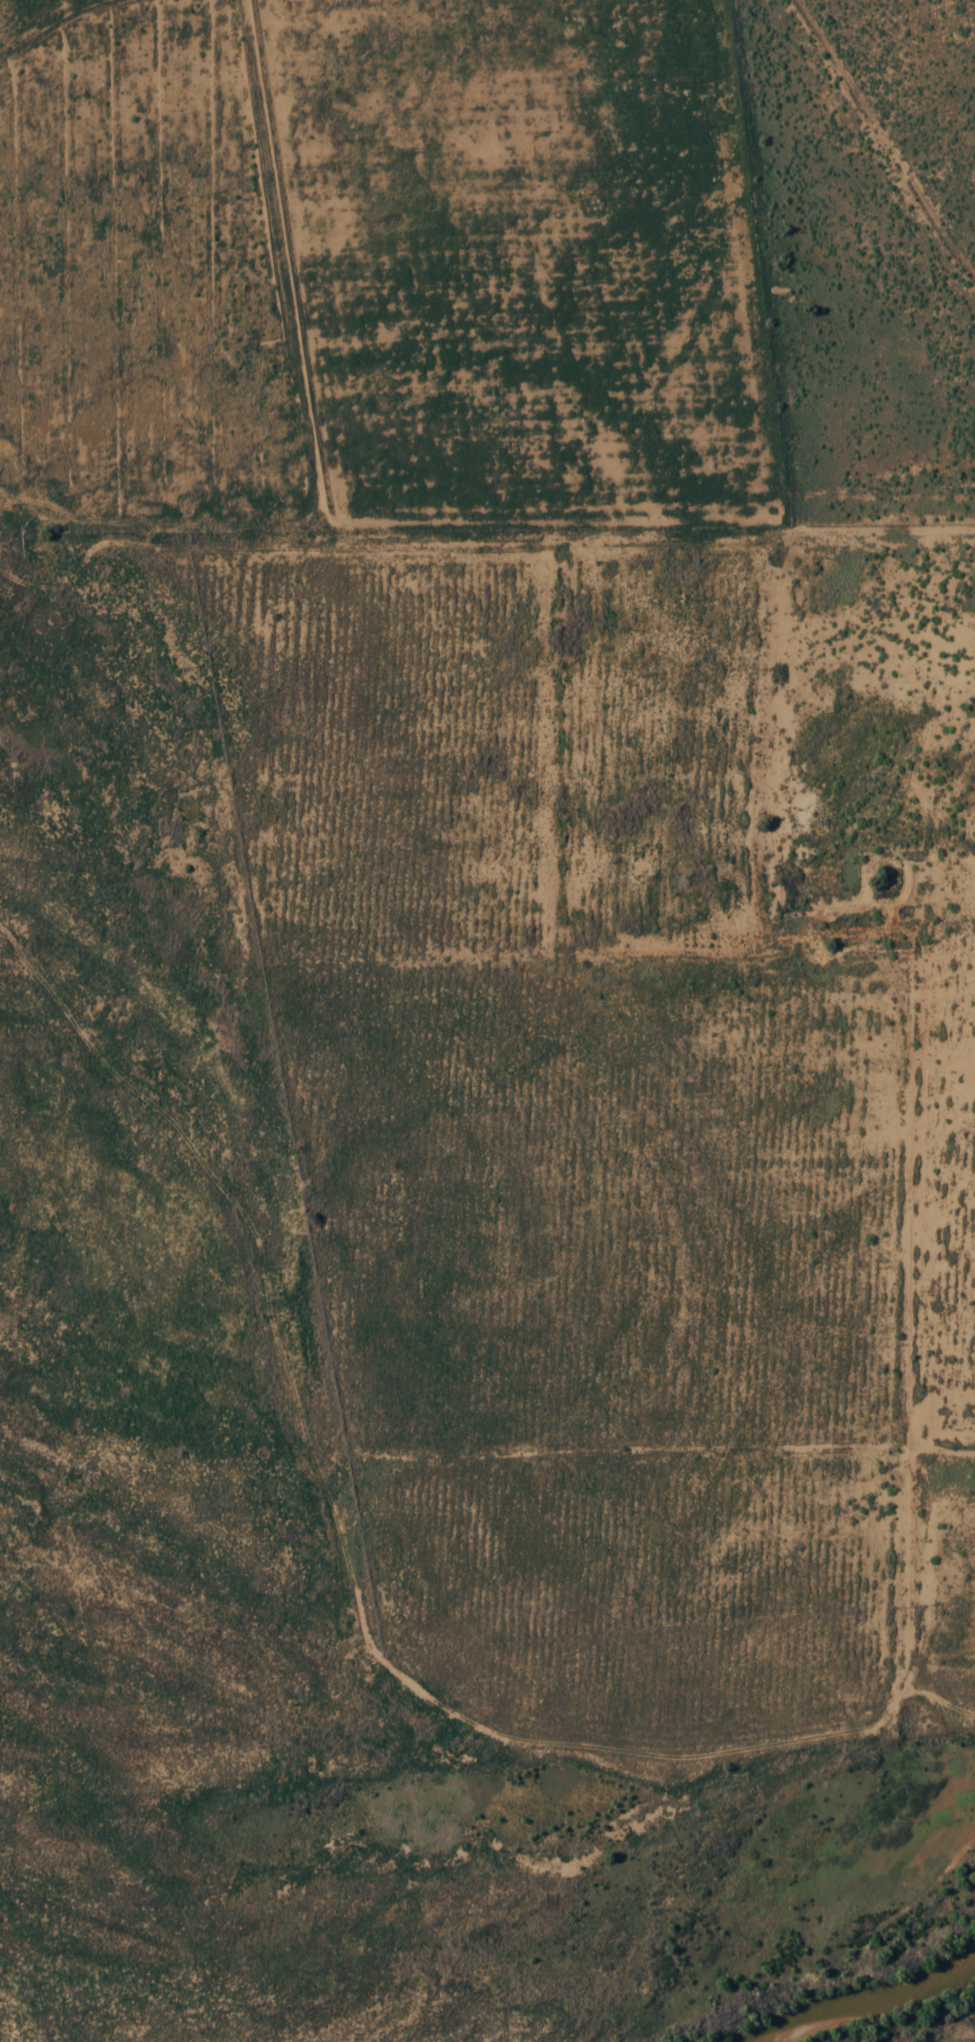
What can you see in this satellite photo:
river: (858, 1996)

